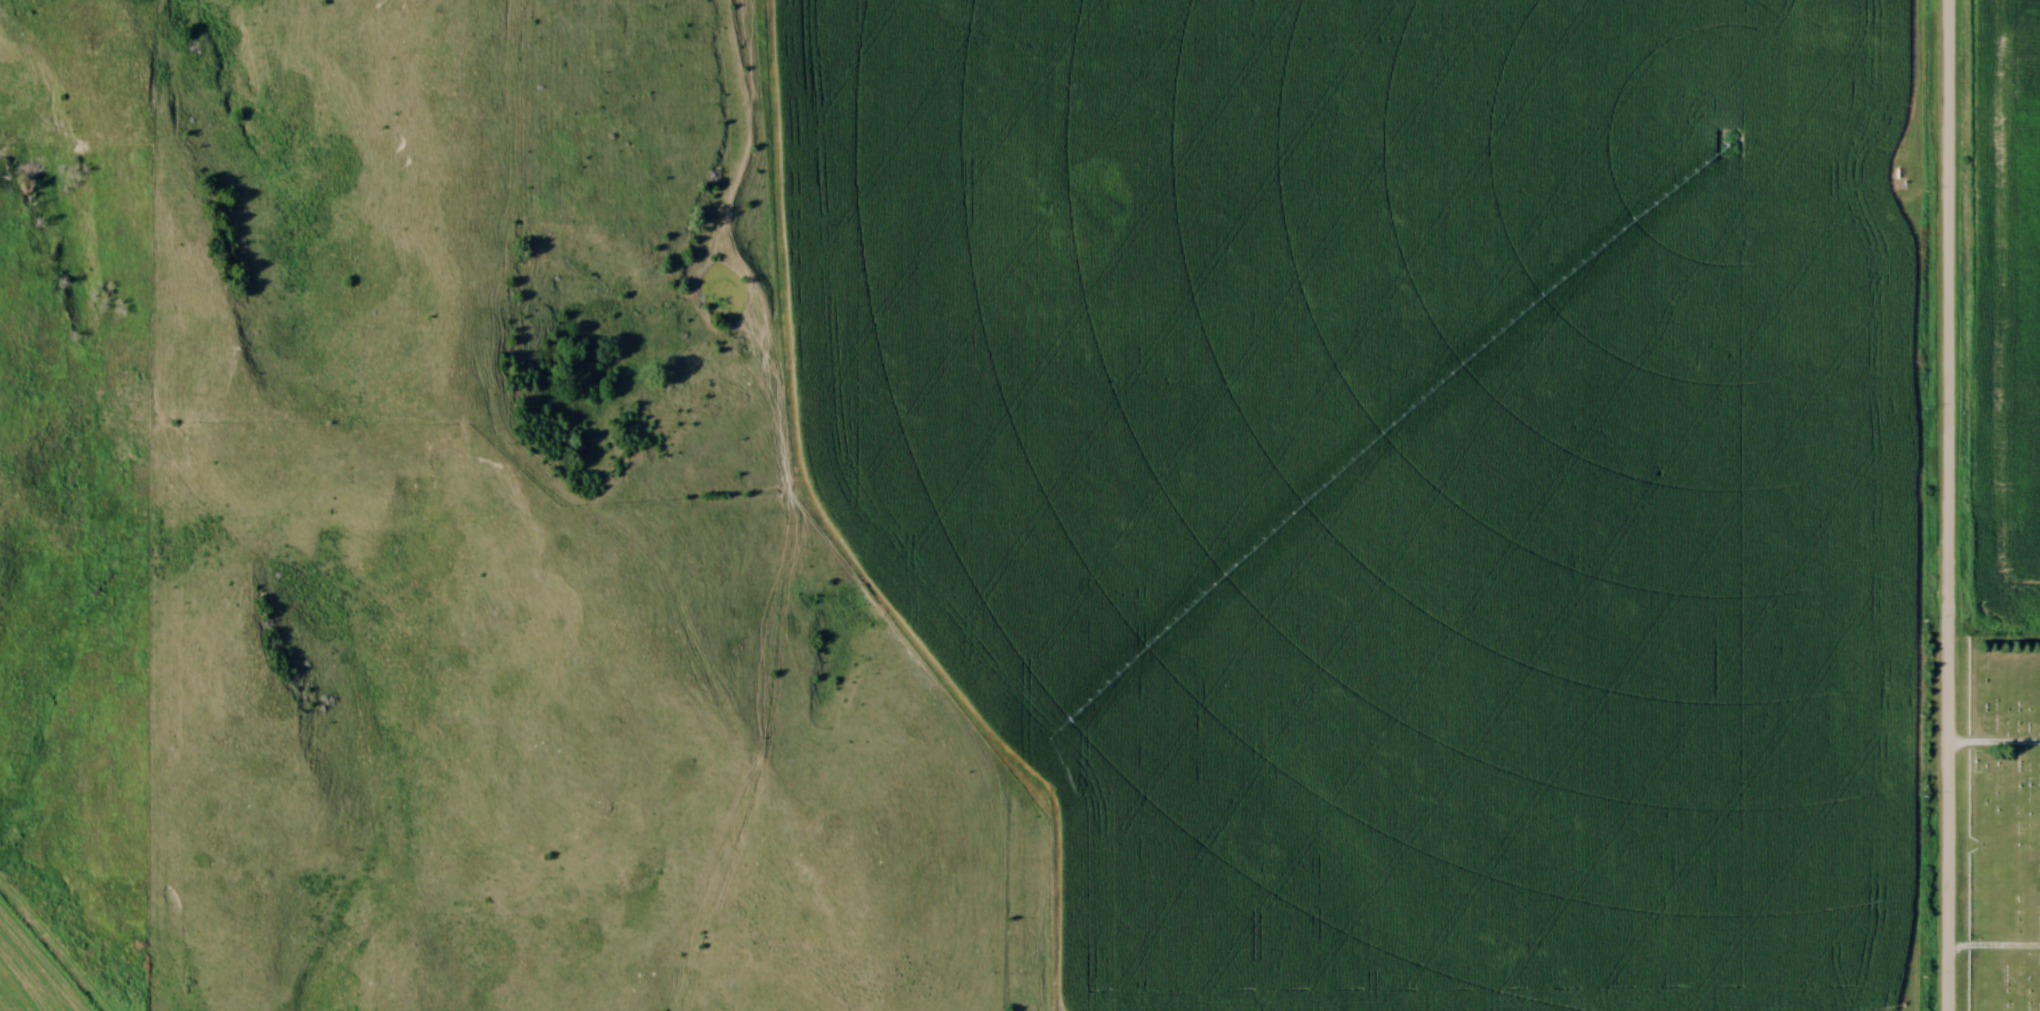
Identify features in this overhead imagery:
road: (1948, 505)
road: (1995, 746)
park: (2005, 821)
road: (1995, 950)

